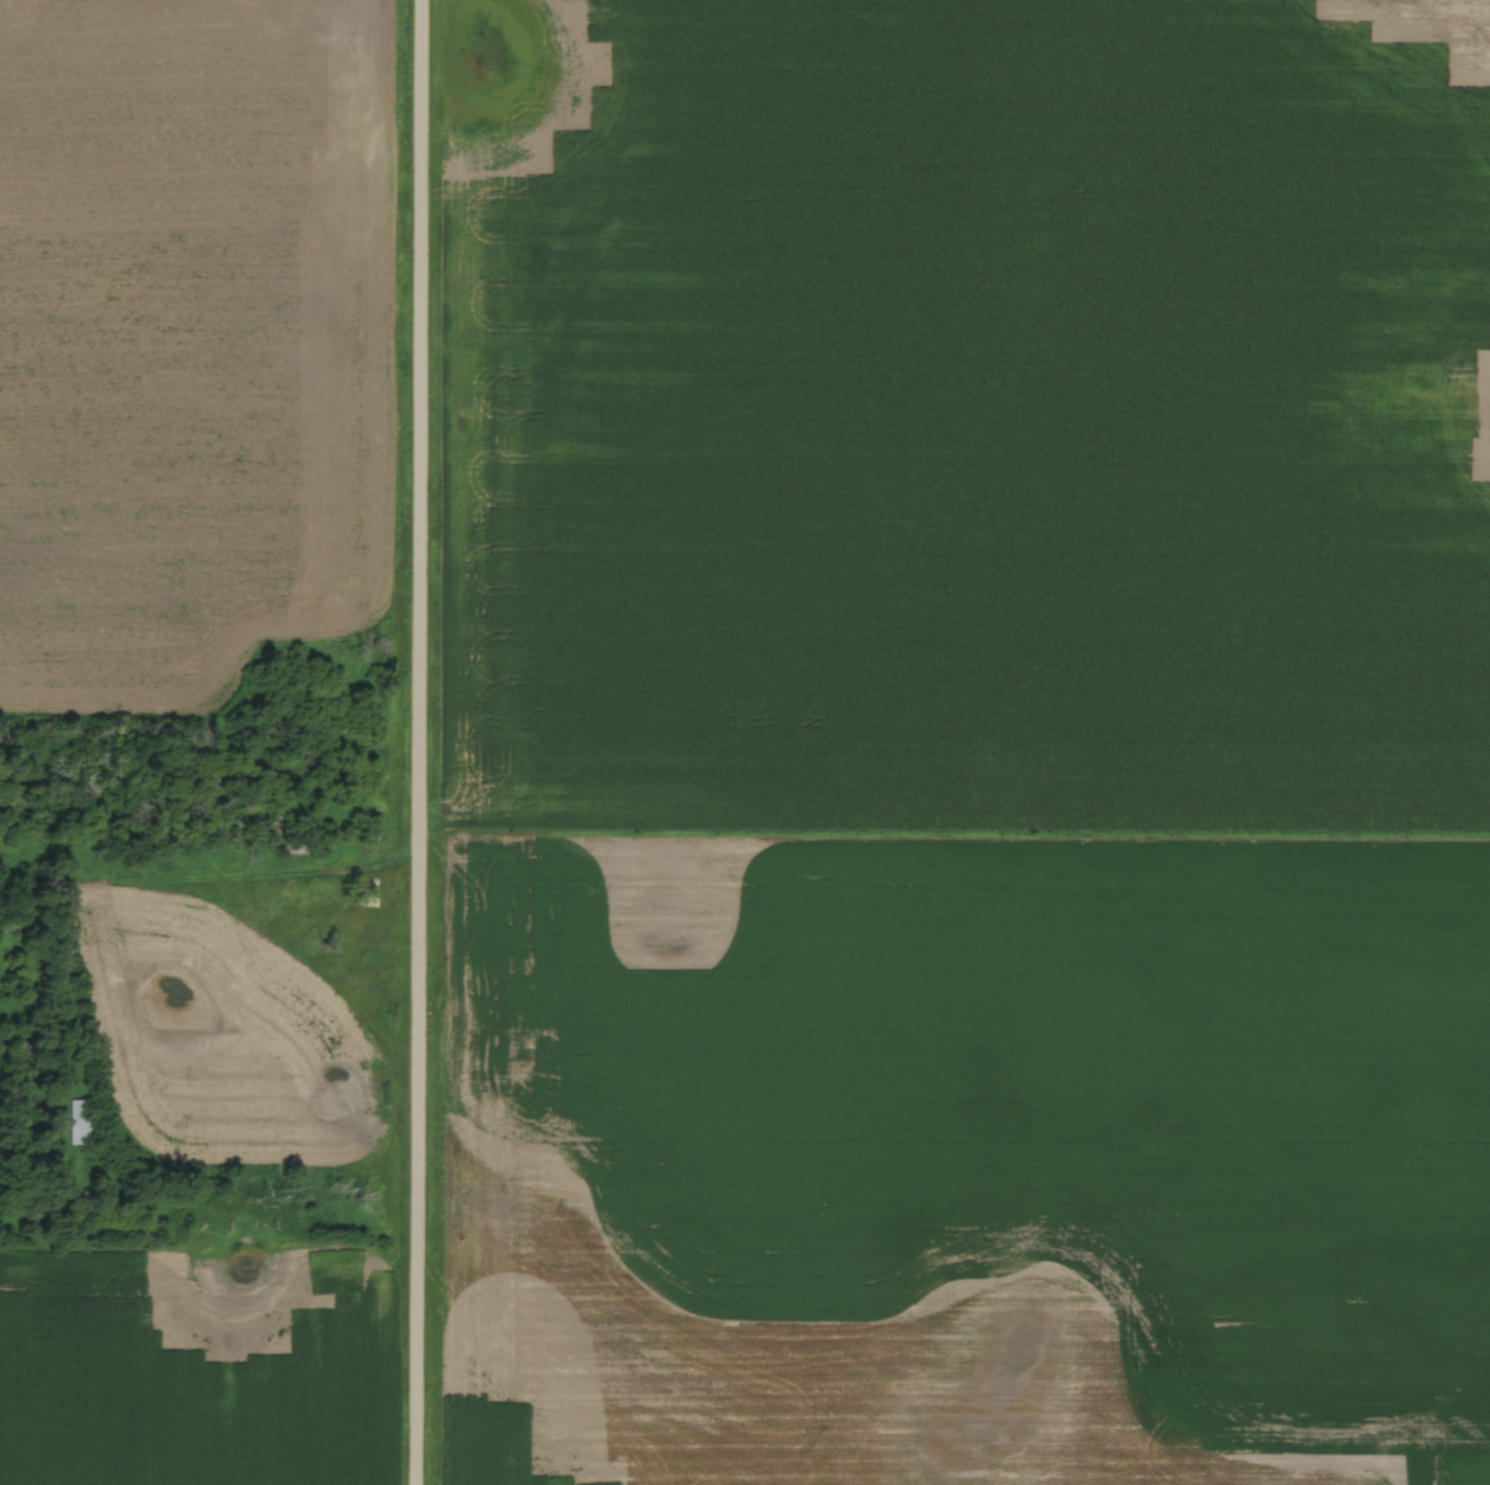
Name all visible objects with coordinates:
road: (418, 742)
building: (78, 1121)

